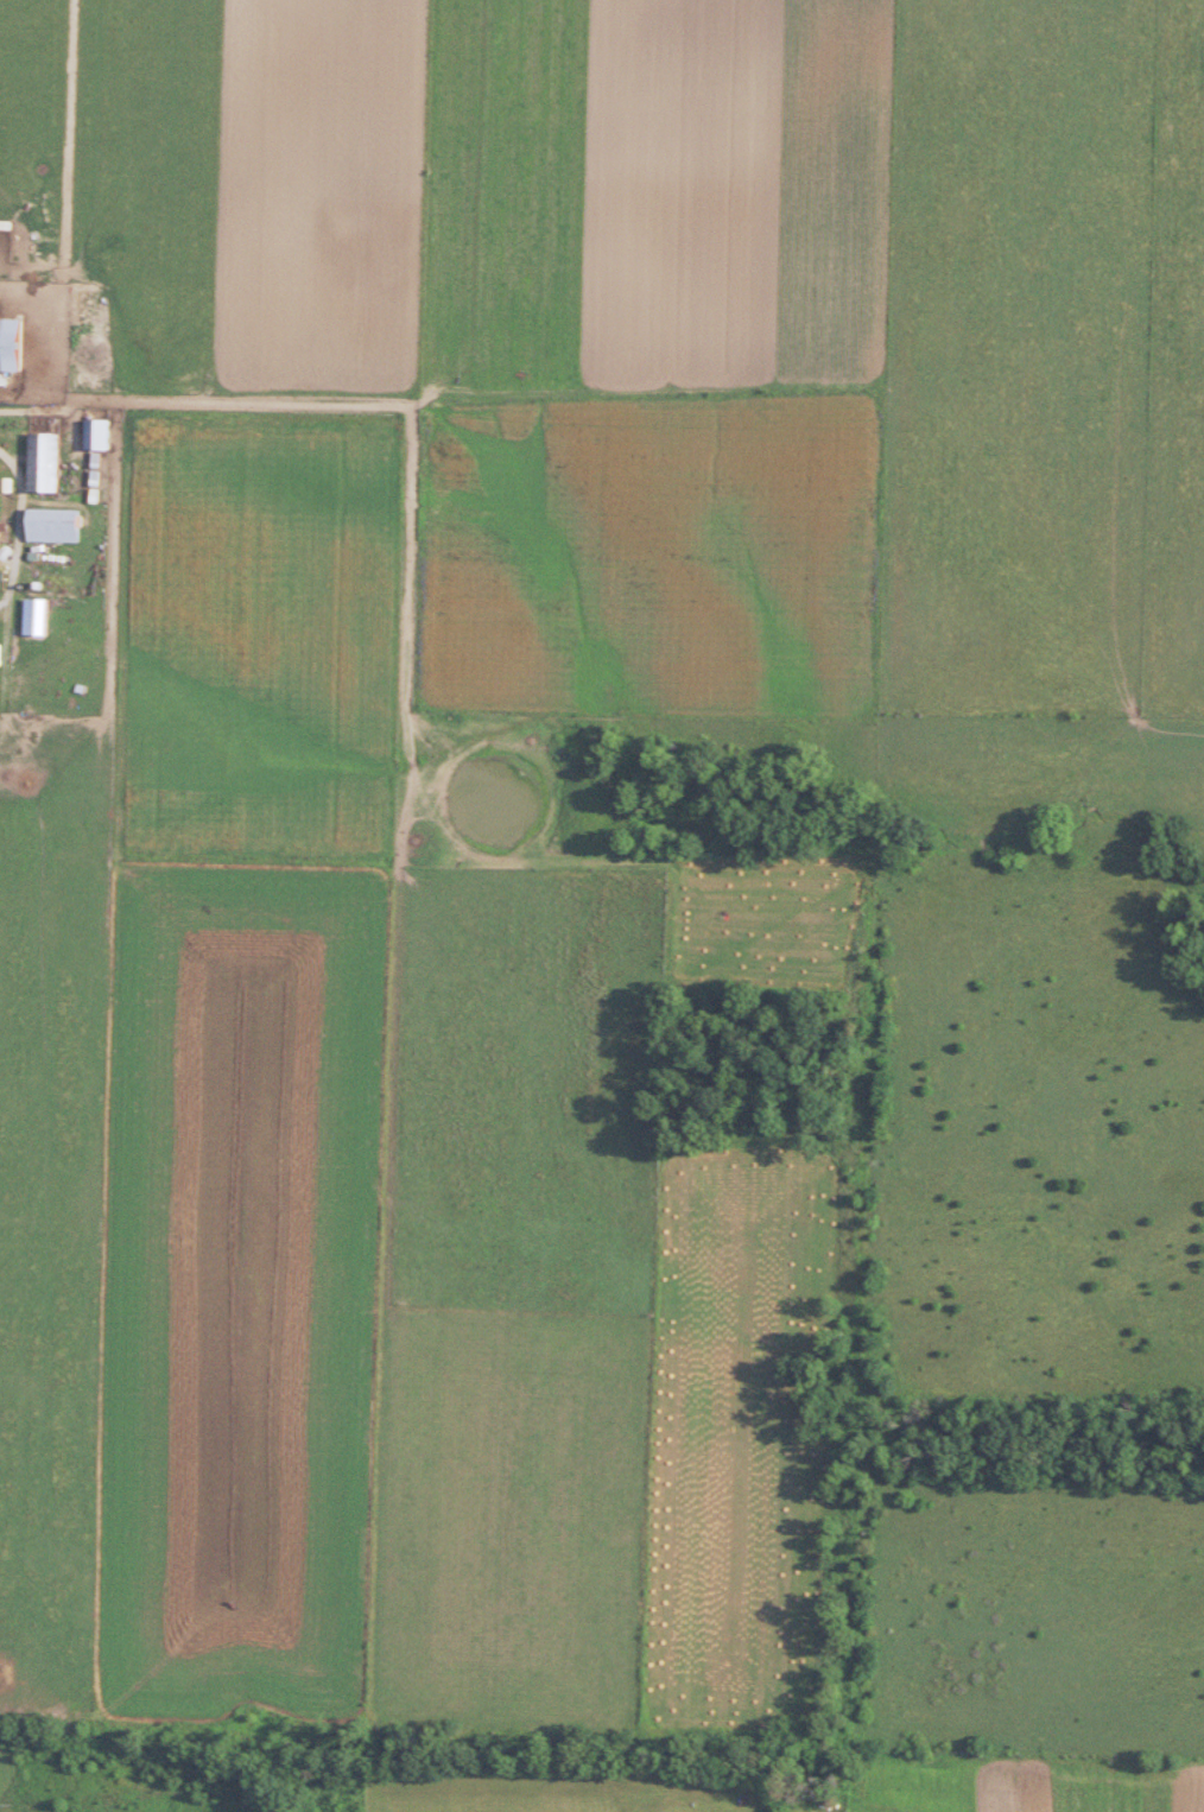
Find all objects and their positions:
building: (17, 346)
building: (106, 435)
building: (51, 463)
building: (61, 526)
road: (14, 530)
building: (5, 653)

